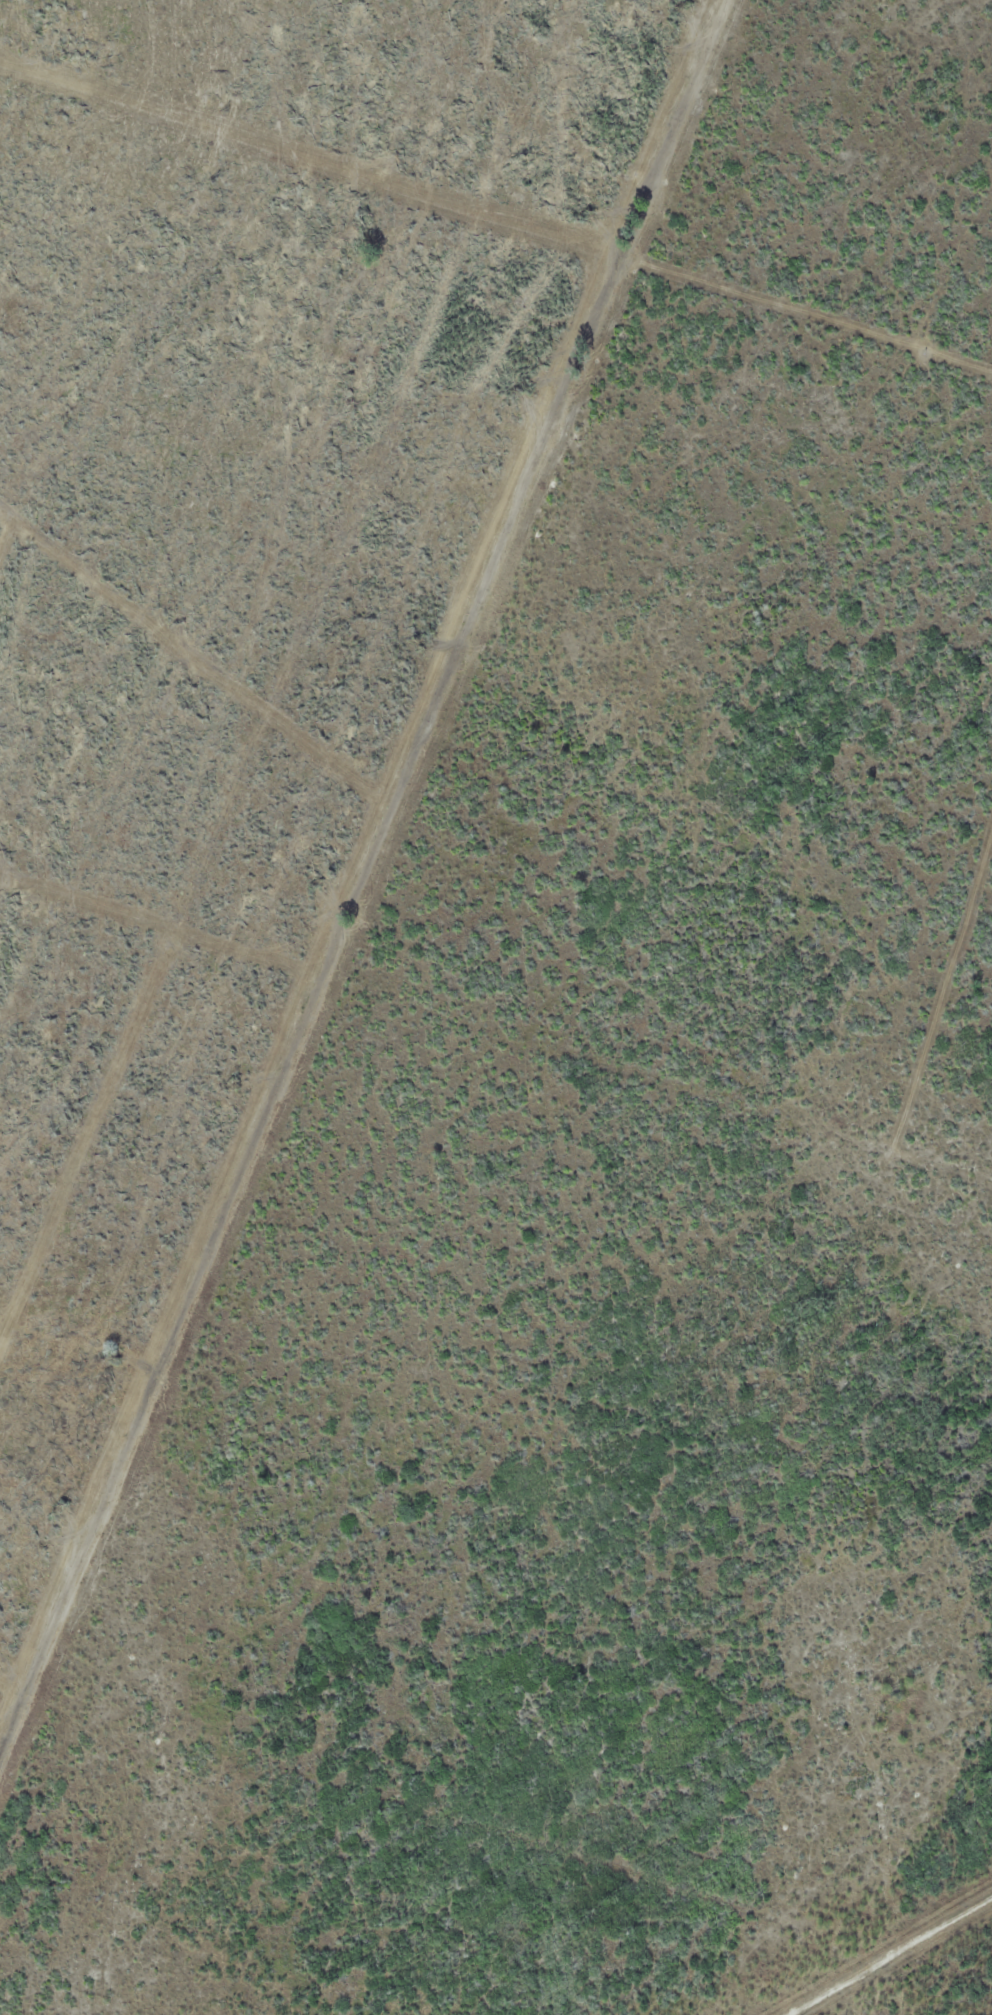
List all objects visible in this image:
road: (899, 1959)

